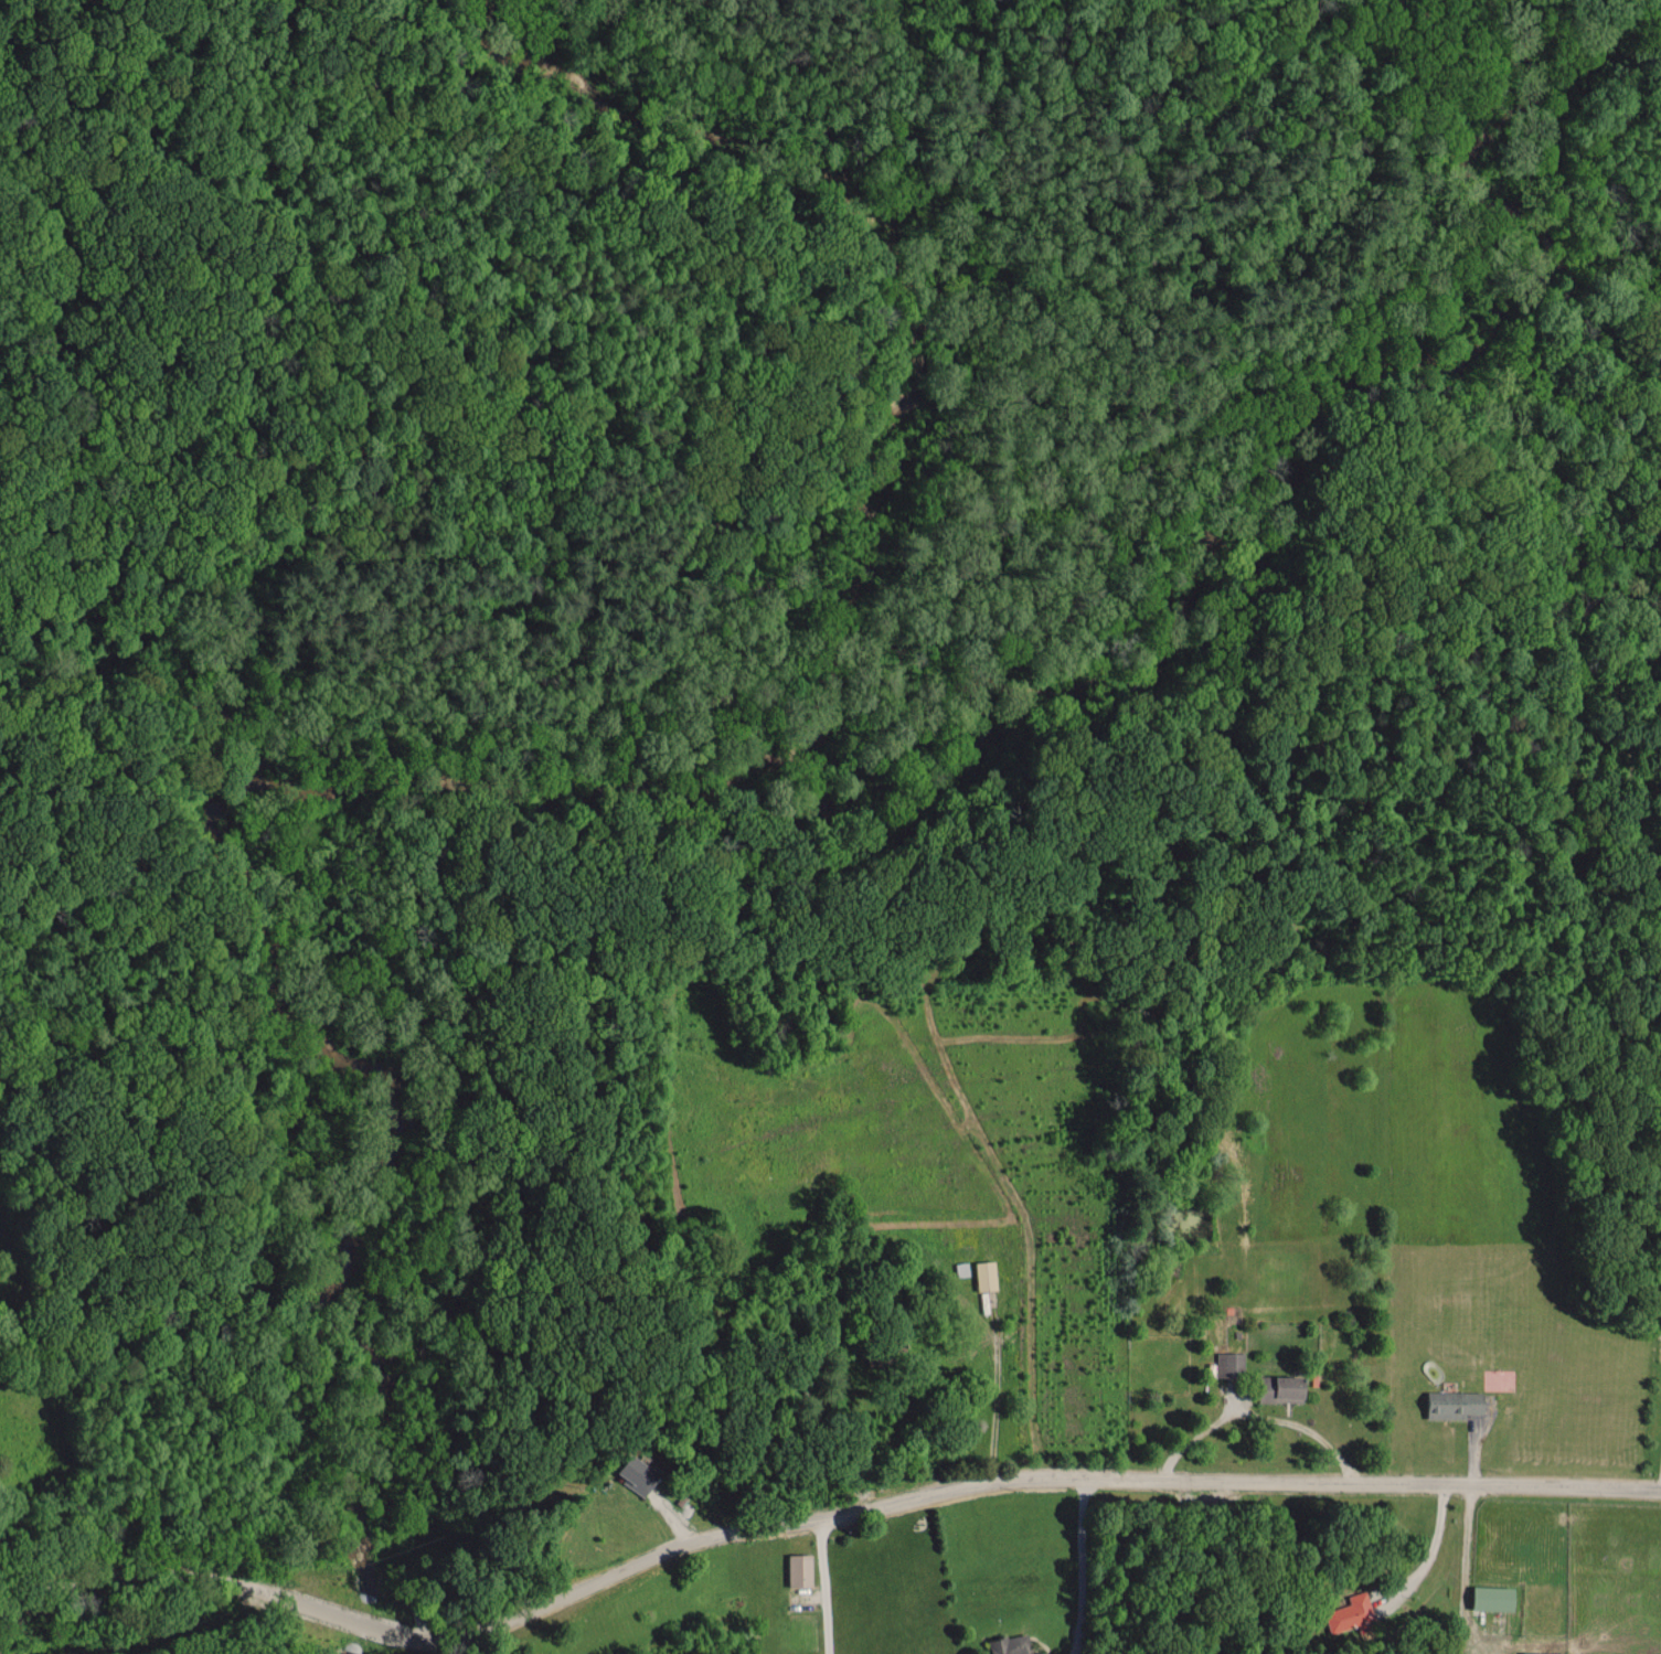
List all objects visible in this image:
building: (988, 1274)
building: (1231, 1363)
building: (1285, 1387)
building: (1457, 1402)
road: (1255, 1413)
road: (1650, 1419)
building: (639, 1473)
road: (963, 1485)
road: (1467, 1538)
road: (1435, 1541)
road: (1082, 1565)
building: (801, 1568)
road: (146, 1569)
road: (822, 1583)
building: (1495, 1597)
building: (1348, 1613)
building: (1013, 1645)
building: (1545, 1652)

